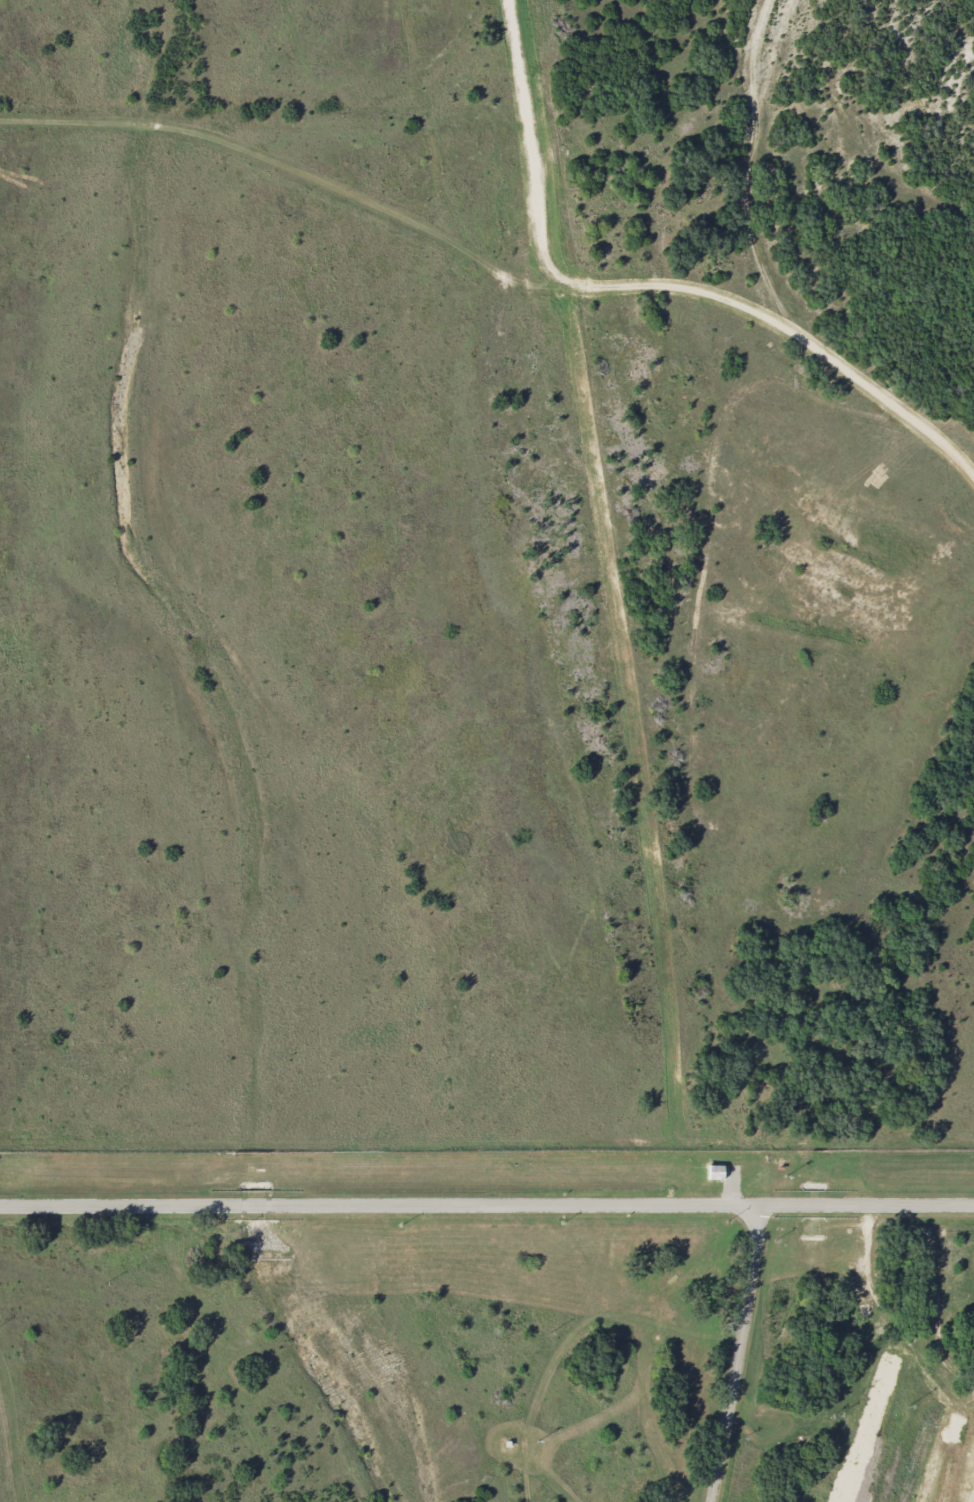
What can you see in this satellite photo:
building: (779, 1167)
building: (715, 1172)
road: (487, 1204)
road: (737, 1352)
road: (945, 1355)

